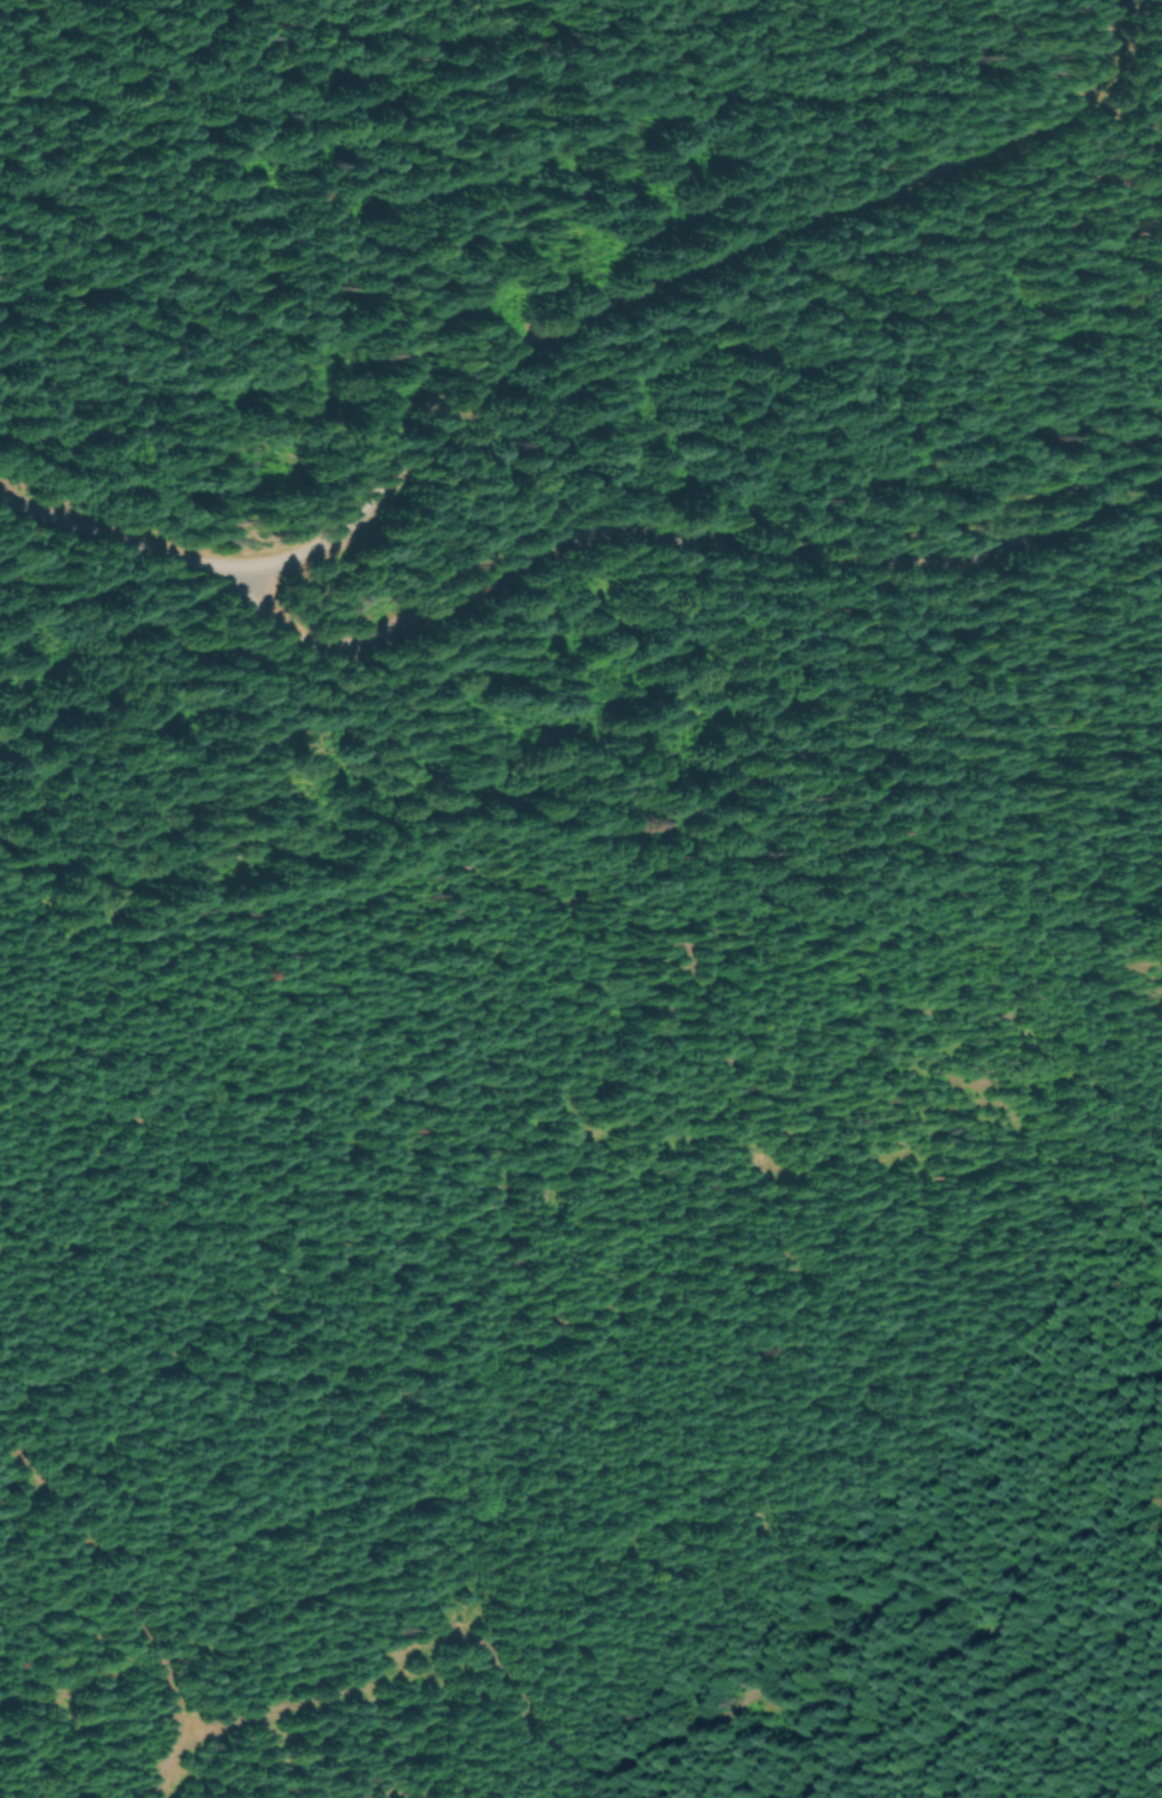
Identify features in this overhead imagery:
road: (568, 324)
road: (665, 537)
road: (132, 1601)

